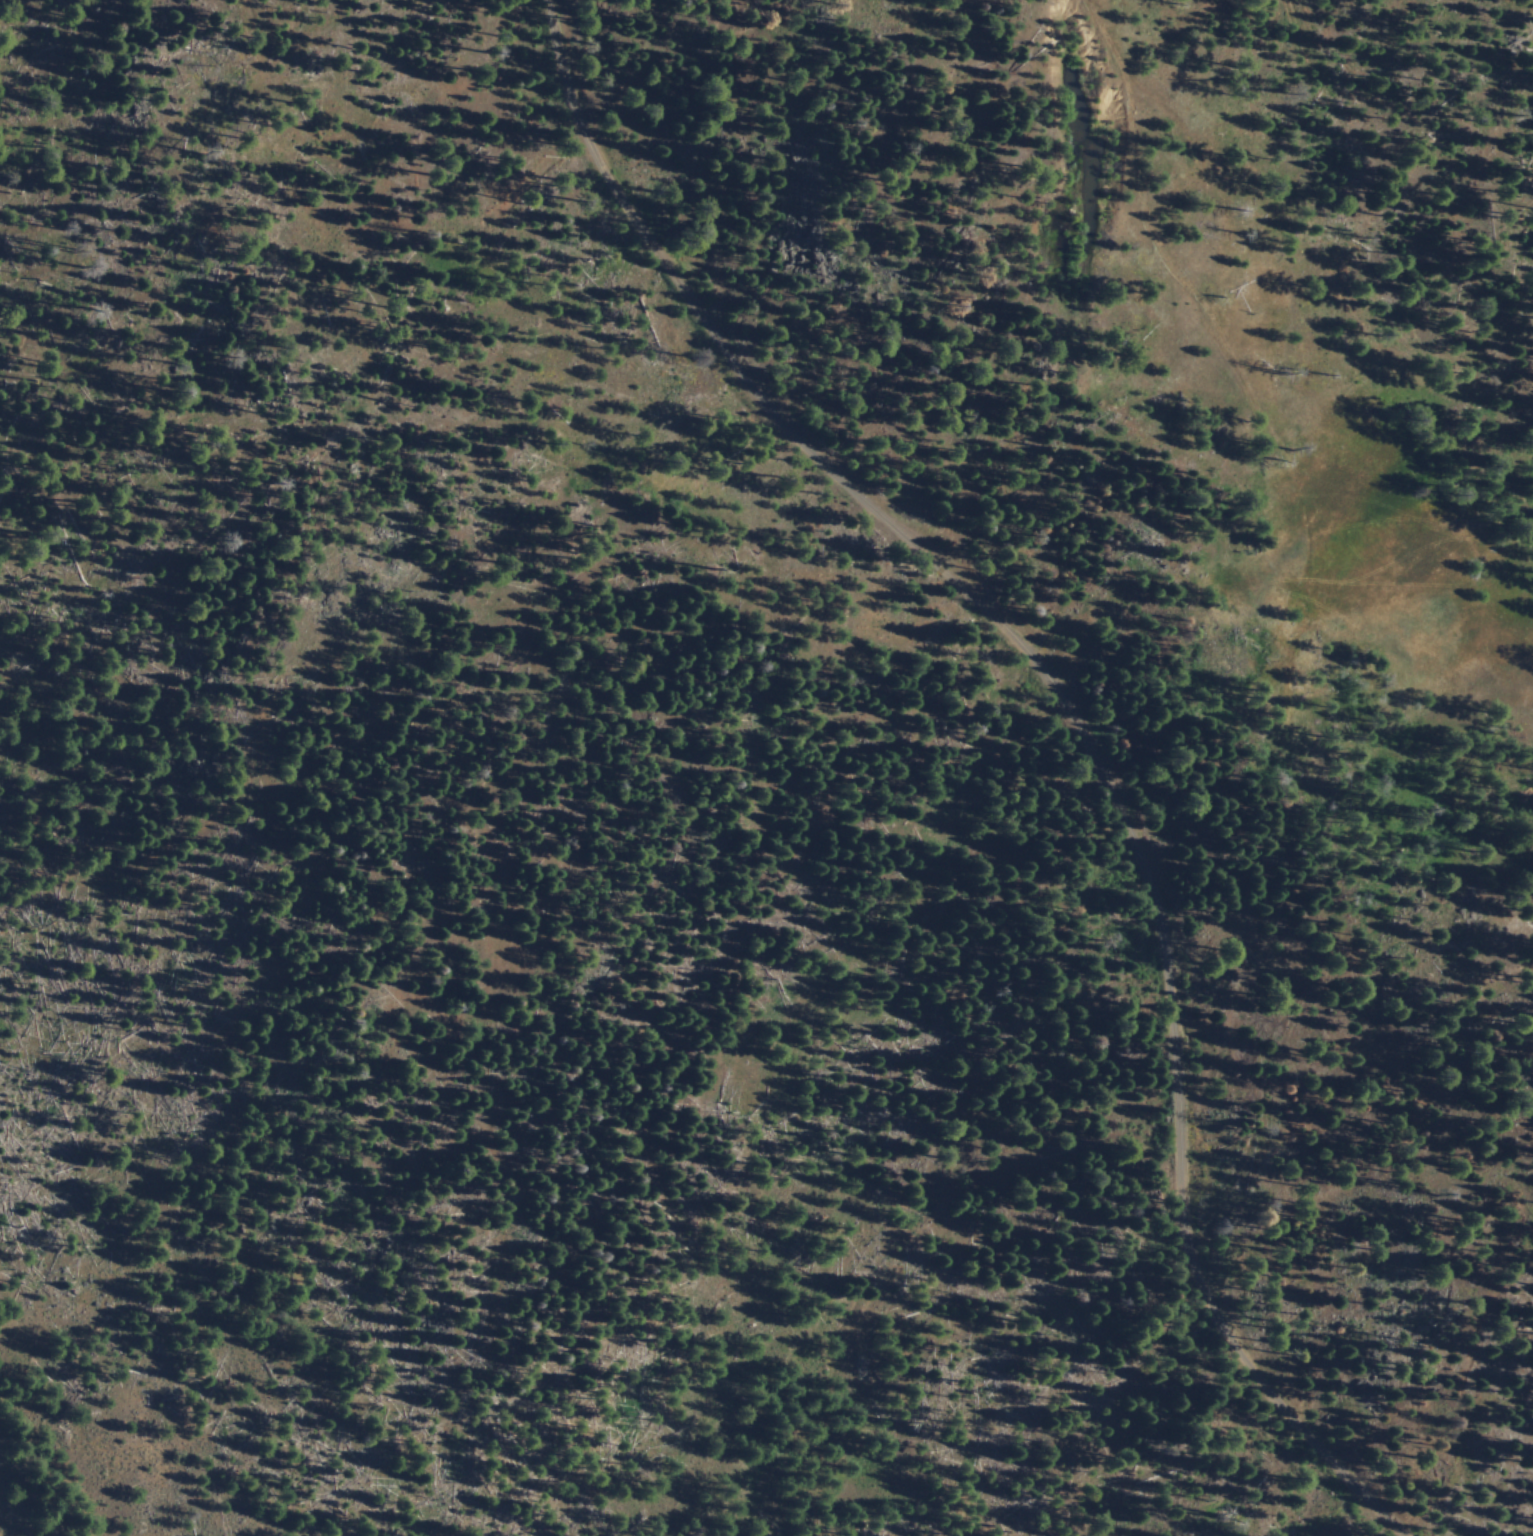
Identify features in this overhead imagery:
road: (1067, 719)

